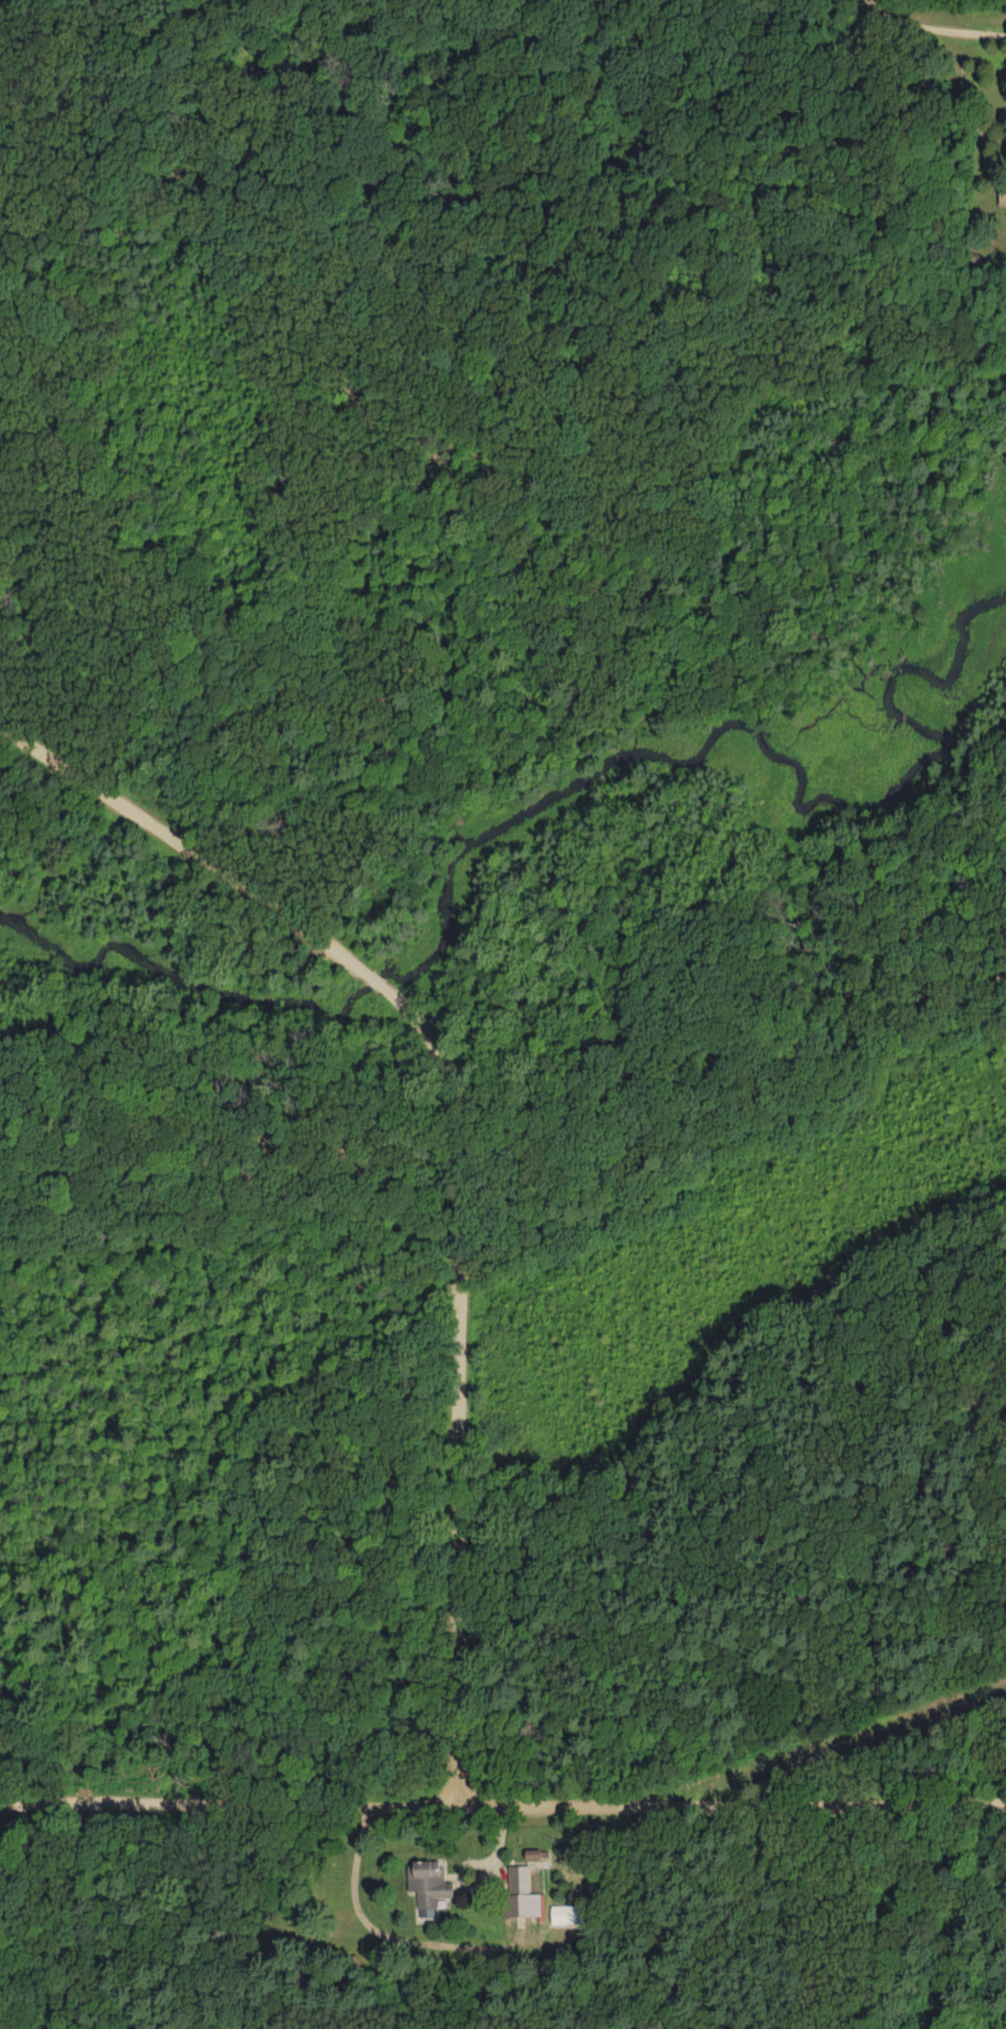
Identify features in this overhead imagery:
road: (956, 92)
building: (1004, 195)
road: (454, 1155)
road: (233, 1805)
road: (736, 1807)
building: (434, 1882)
building: (526, 1892)
building: (575, 1914)
road: (383, 1931)

